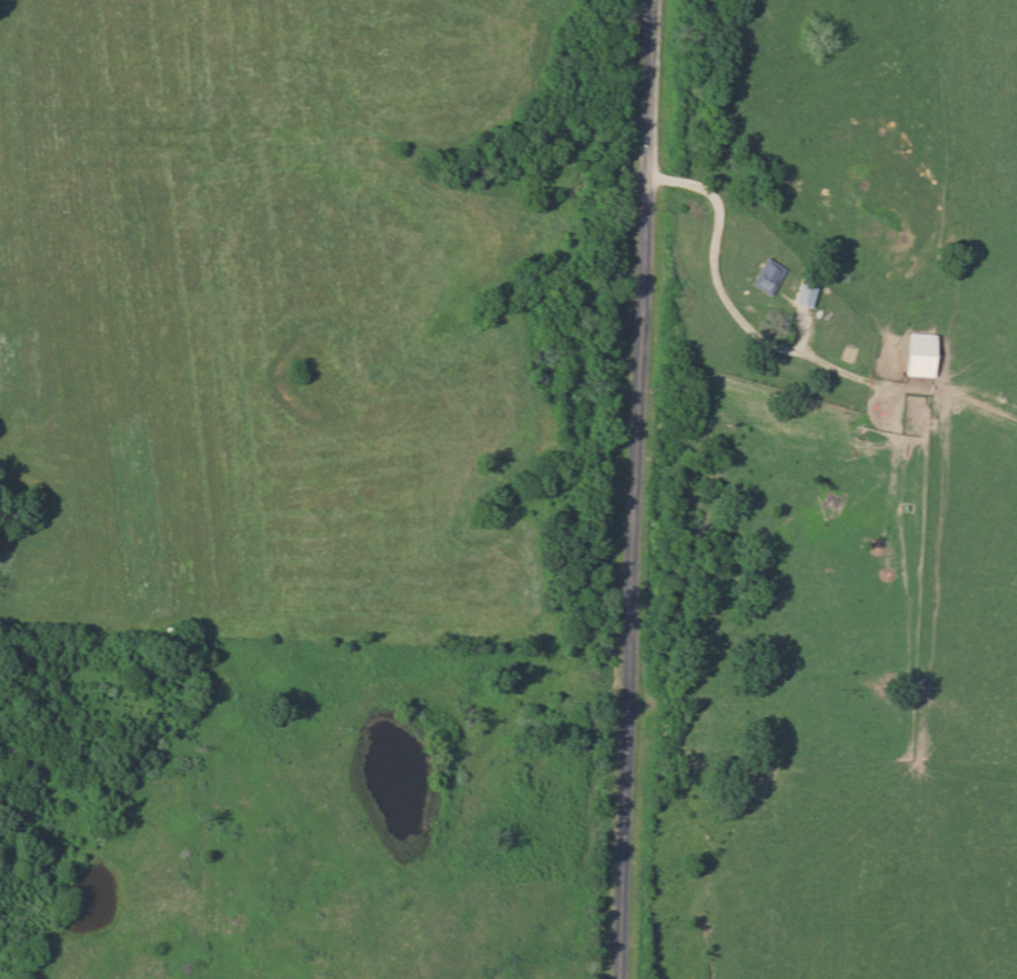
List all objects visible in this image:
road: (706, 274)
building: (762, 280)
building: (802, 293)
building: (917, 354)
road: (637, 489)

